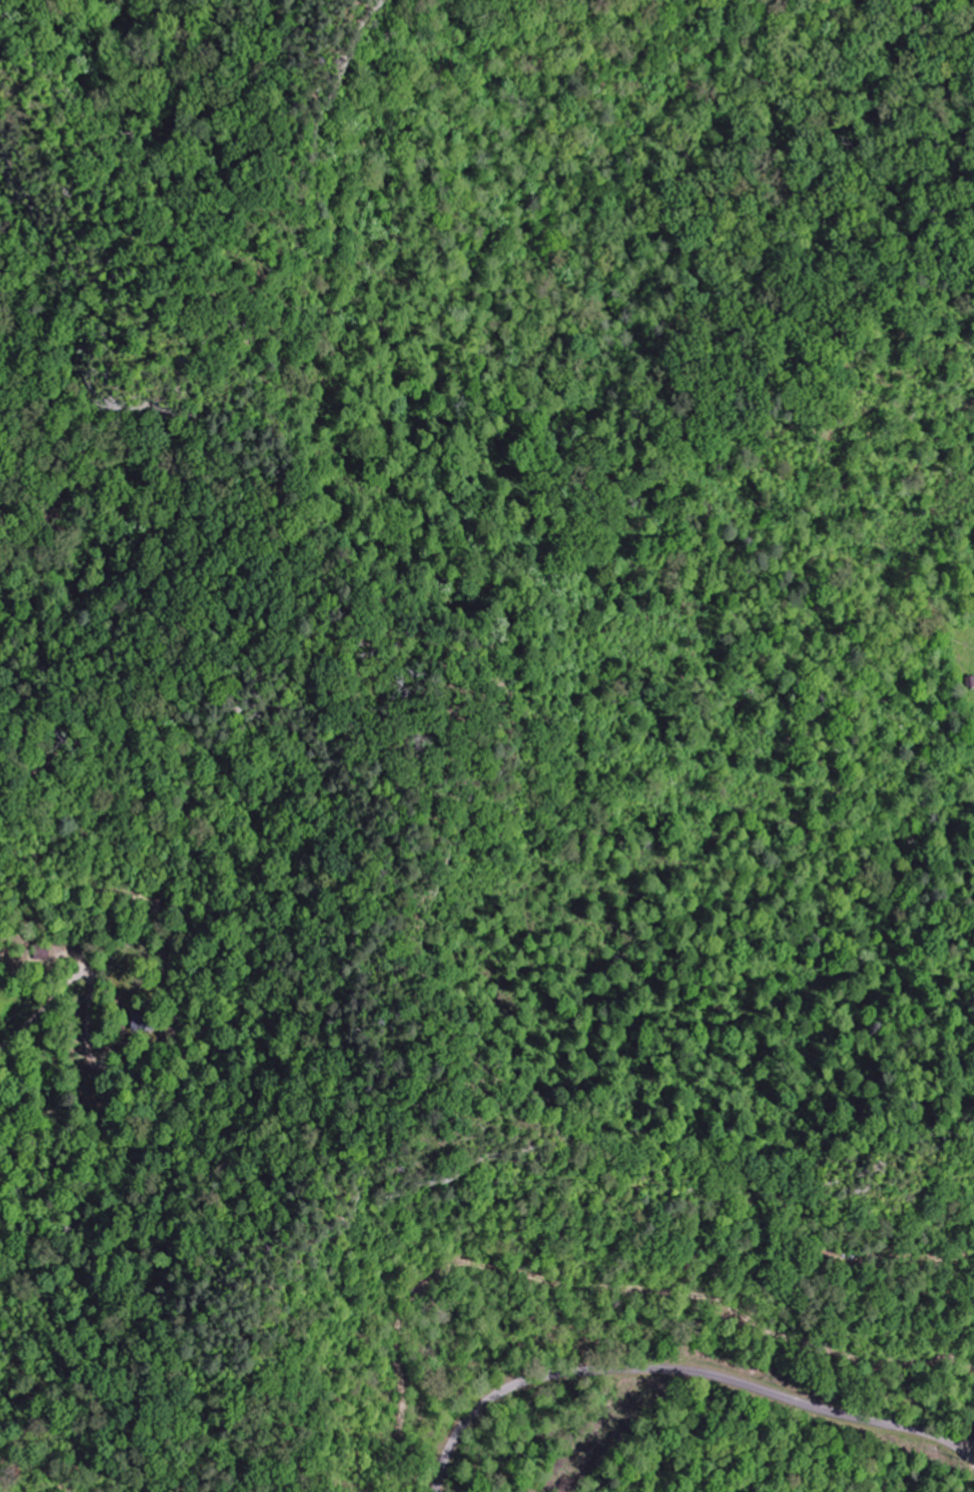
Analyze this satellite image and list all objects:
road: (681, 1376)

